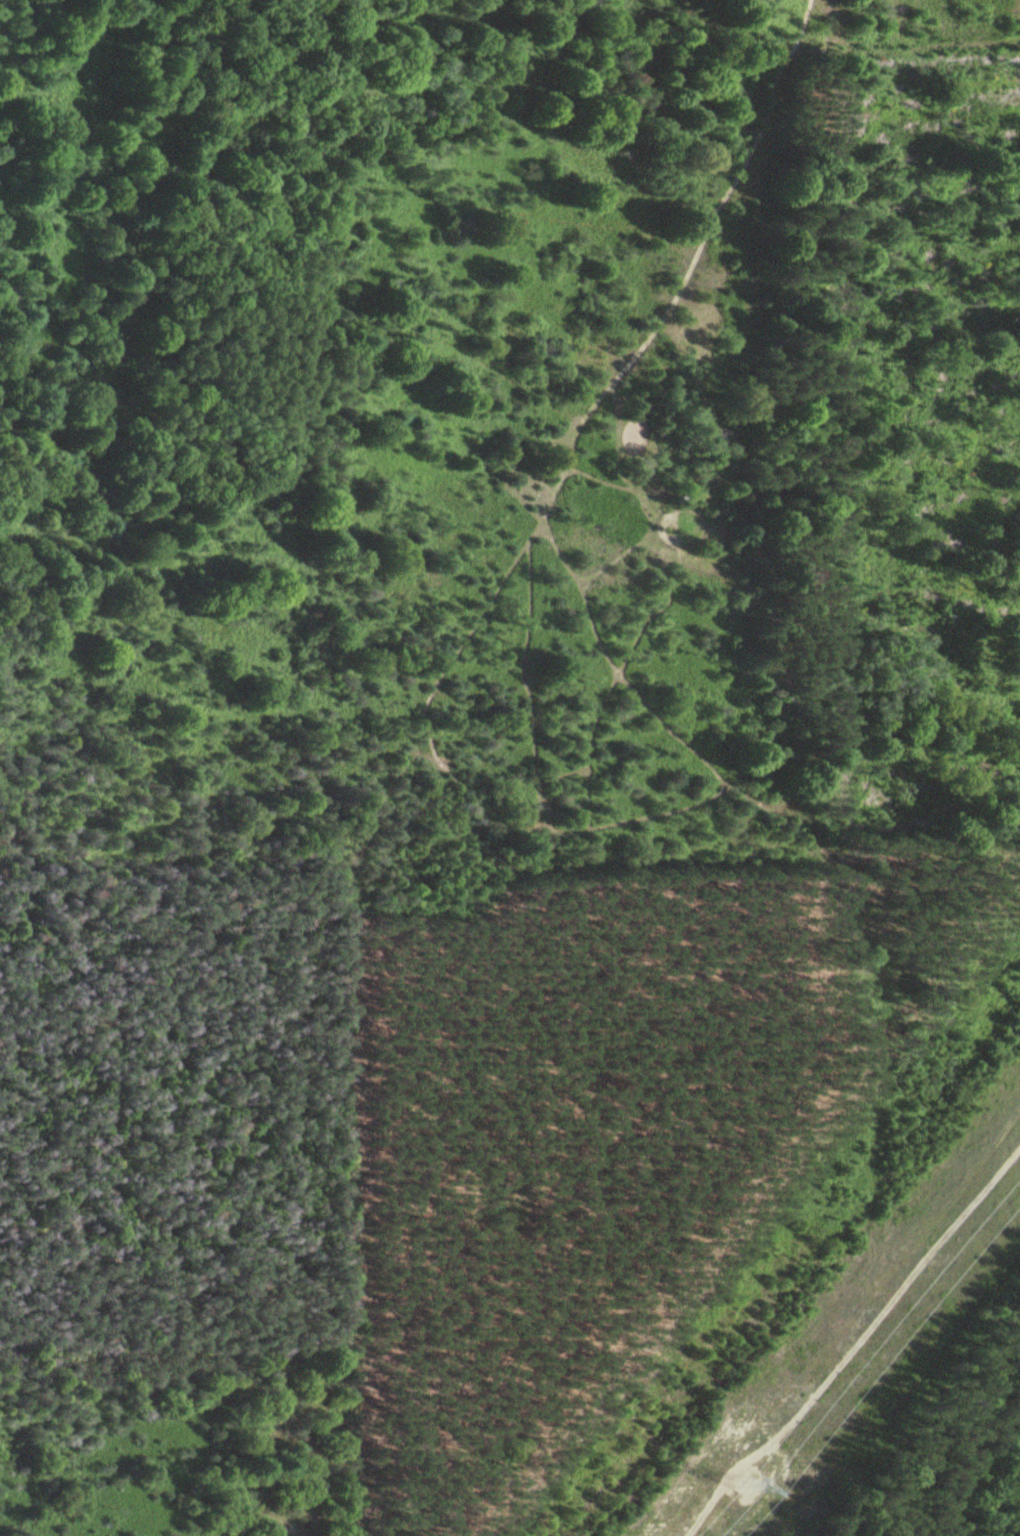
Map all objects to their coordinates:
road: (852, 1342)
power tower: (740, 1484)

